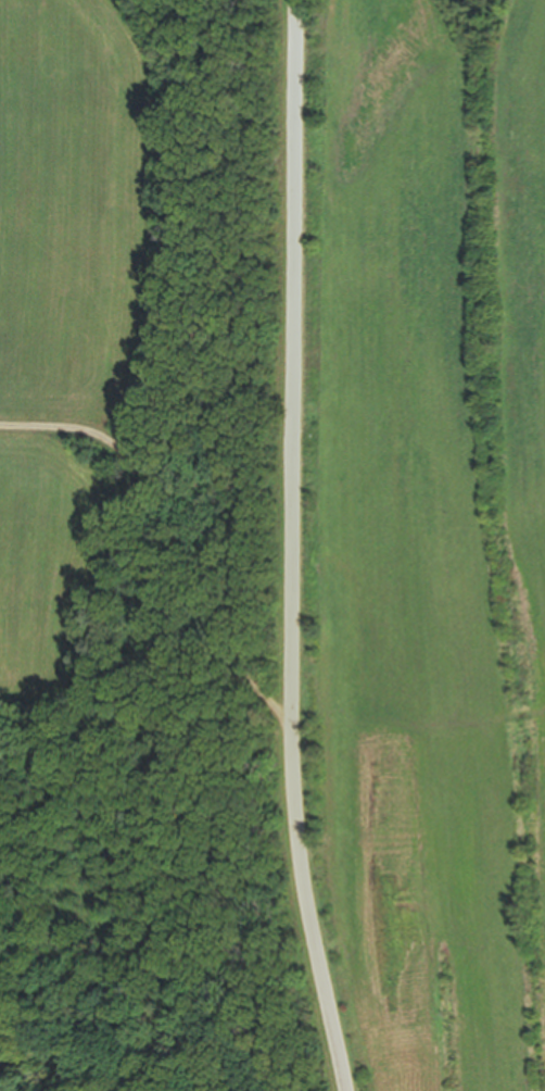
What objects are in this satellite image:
road: (170, 534)
road: (292, 547)

